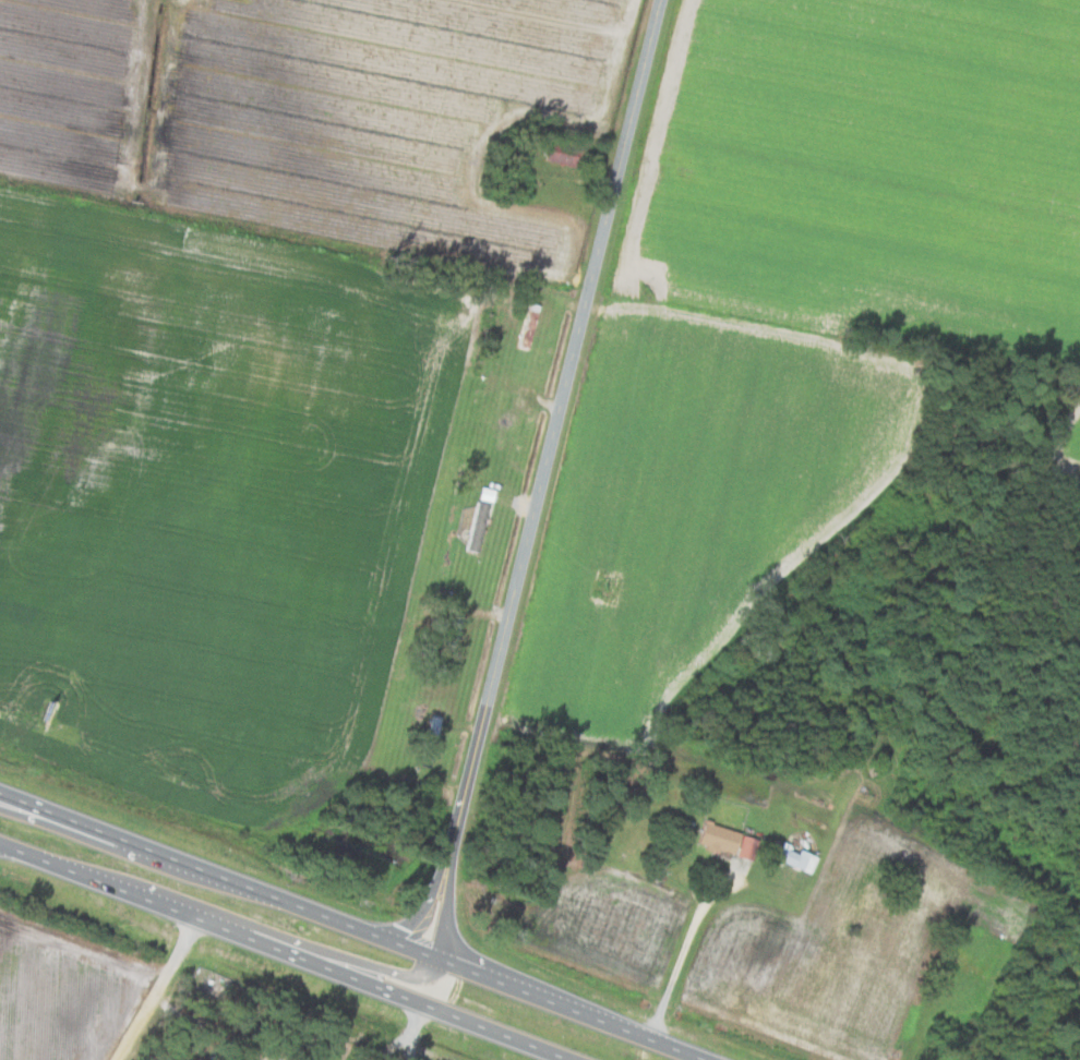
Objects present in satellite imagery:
road: (553, 432)
building: (472, 525)
road: (17, 802)
building: (715, 835)
building: (745, 845)
building: (792, 856)
road: (420, 910)
road: (444, 911)
road: (353, 925)
road: (285, 950)
road: (369, 965)
road: (152, 988)
road: (409, 1031)
road: (374, 1050)
road: (415, 1050)

